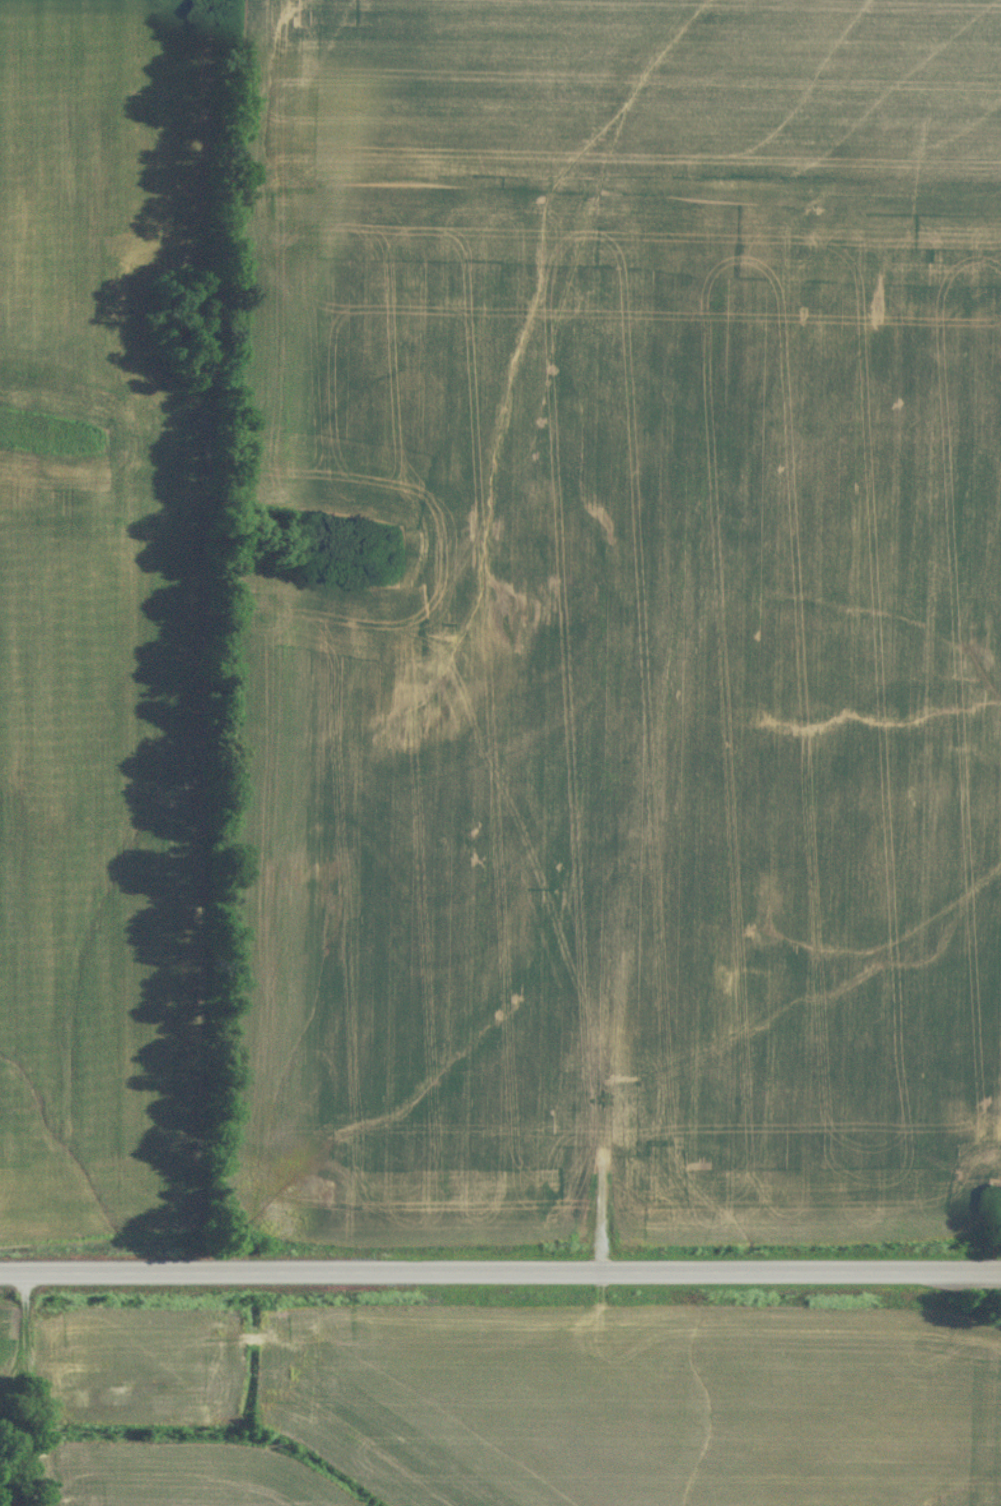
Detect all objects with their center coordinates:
road: (985, 1204)
road: (500, 1273)

